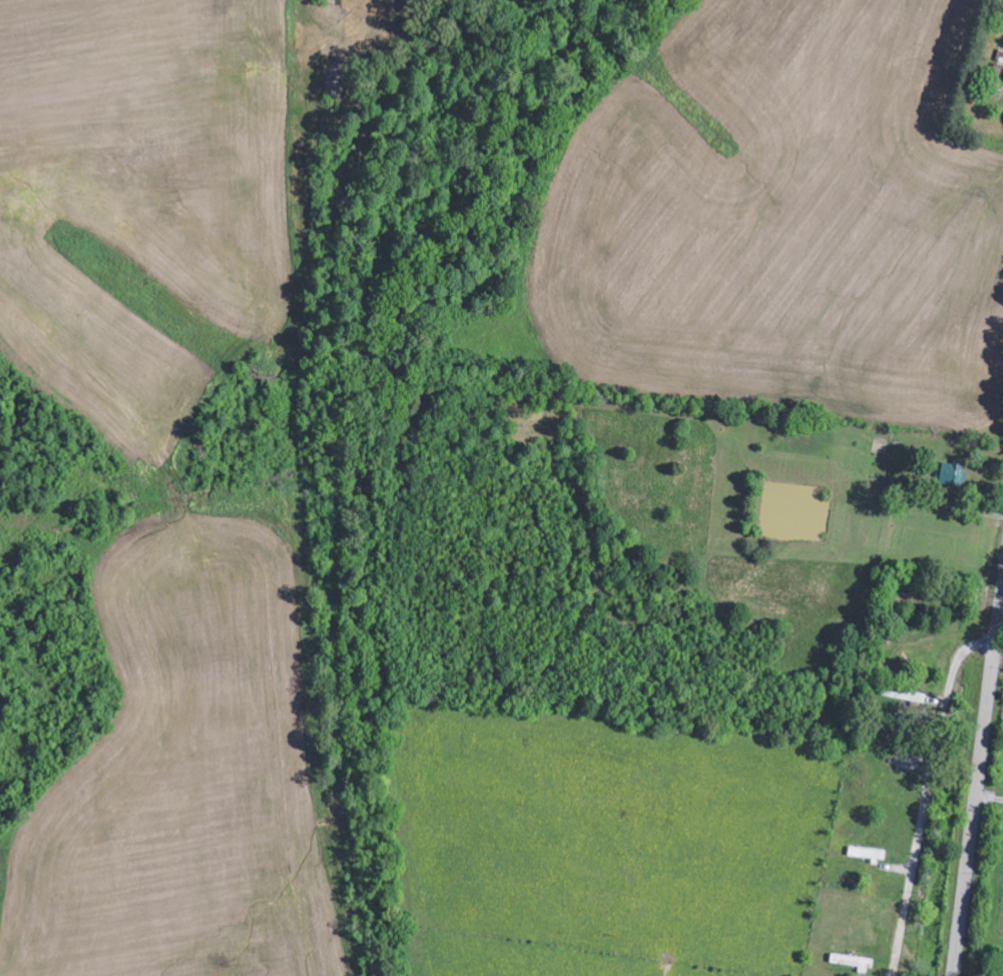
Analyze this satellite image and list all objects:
building: (954, 473)
road: (977, 783)
road: (924, 797)
building: (854, 962)

